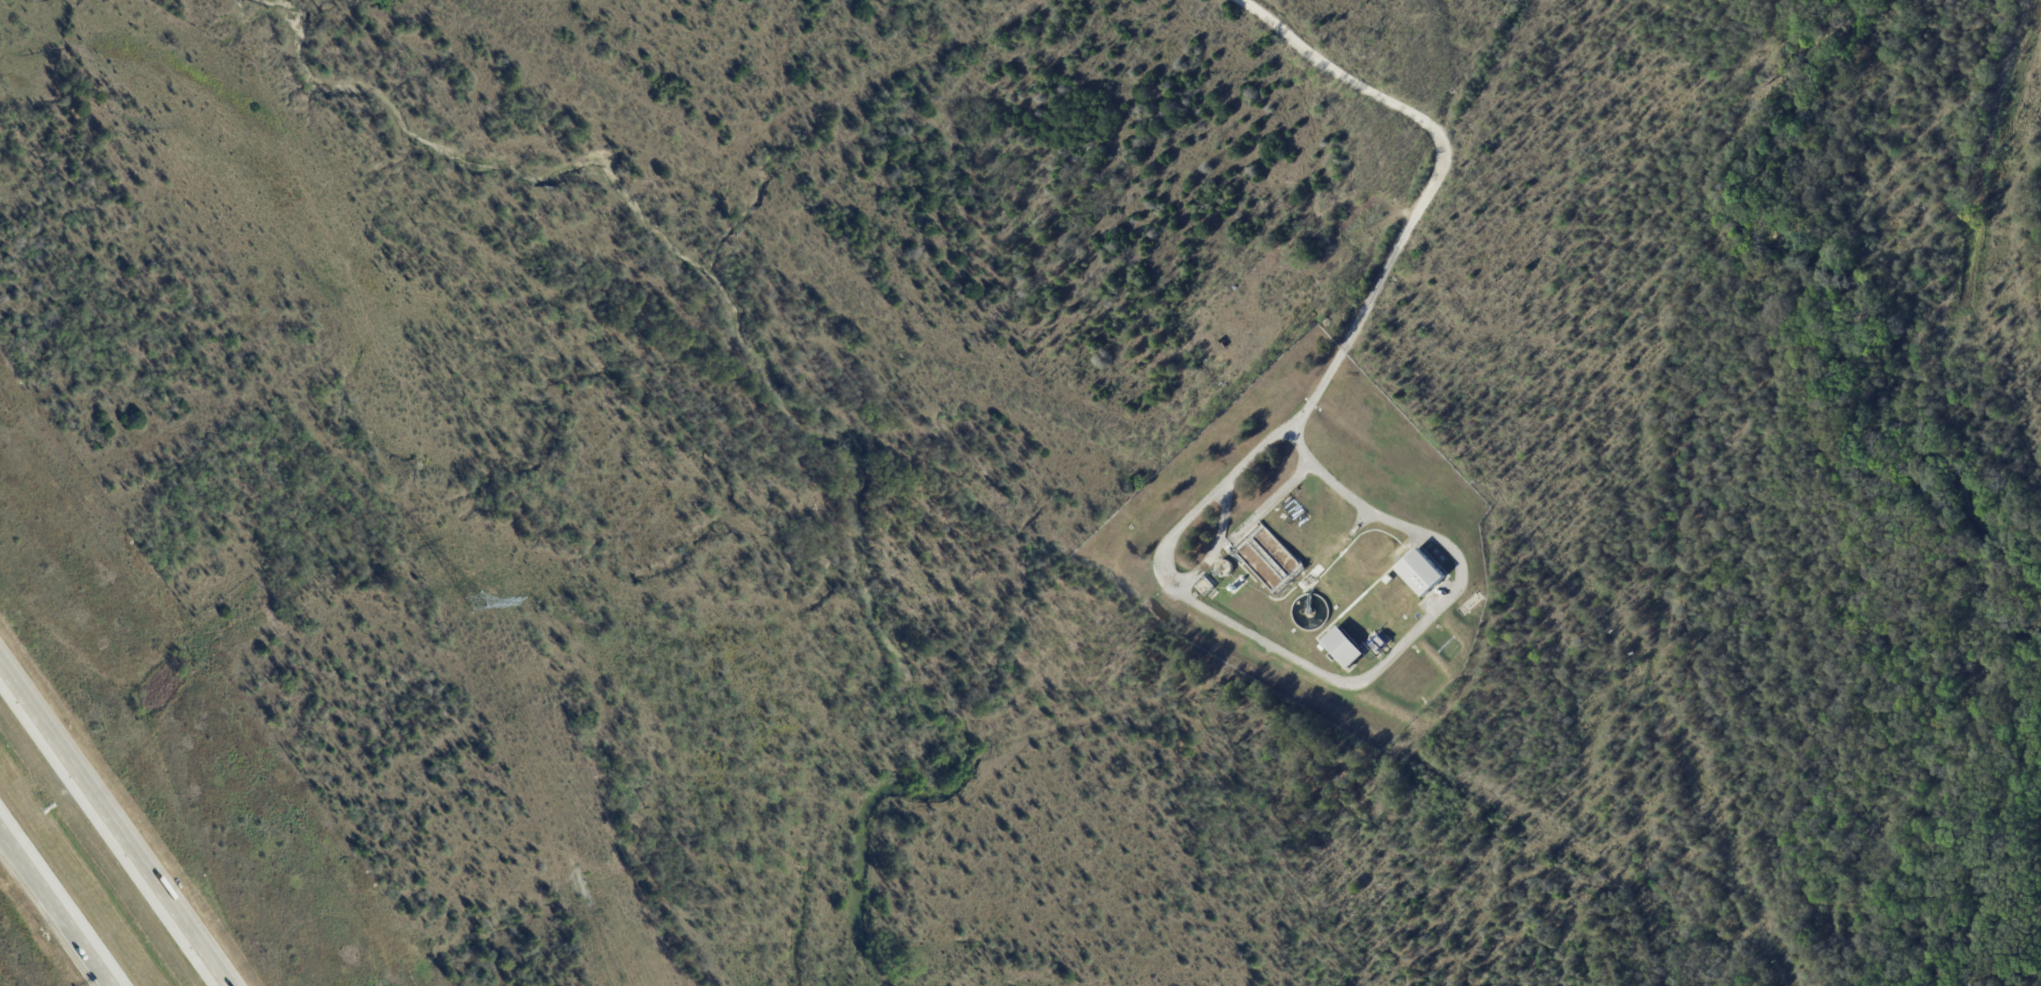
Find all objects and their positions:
road: (1435, 179)
road: (1247, 524)
wastewater plant: (1308, 543)
building: (1422, 573)
power tower: (478, 605)
building: (1344, 648)
road: (1340, 678)
road: (116, 820)
road: (63, 901)

